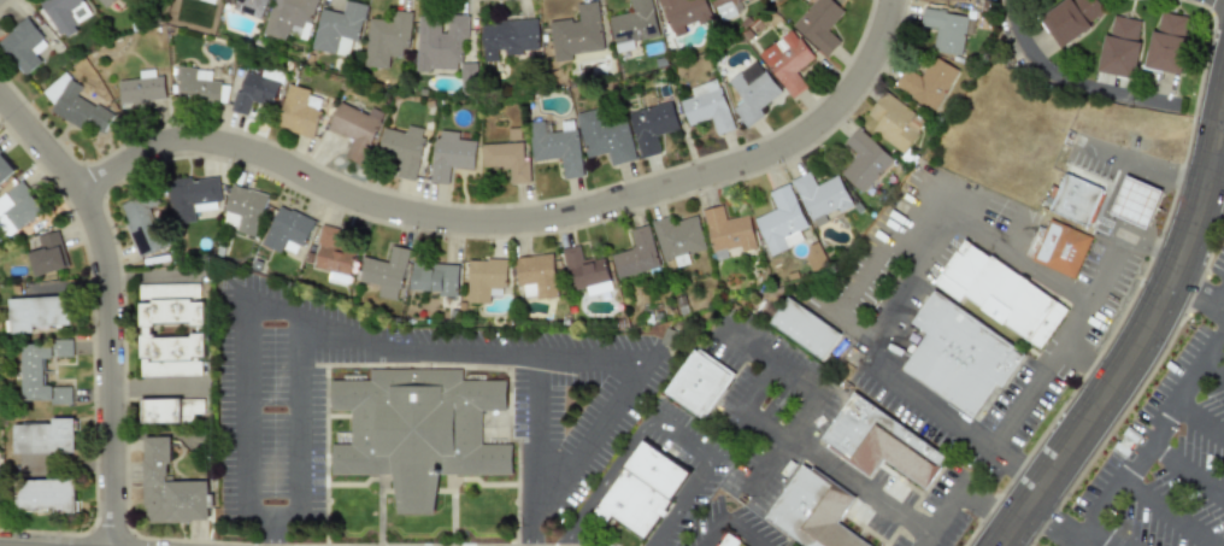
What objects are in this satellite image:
building: (210, 1)
building: (105, 2)
building: (249, 7)
building: (725, 8)
building: (683, 13)
building: (65, 14)
building: (288, 16)
building: (1070, 18)
building: (818, 24)
building: (634, 25)
building: (339, 29)
building: (945, 30)
building: (577, 33)
building: (508, 39)
building: (387, 40)
building: (1167, 42)
building: (440, 43)
building: (23, 46)
building: (1119, 47)
building: (787, 61)
building: (926, 83)
road: (1073, 83)
building: (195, 86)
building: (141, 88)
building: (254, 92)
building: (752, 93)
building: (75, 105)
building: (707, 106)
building: (296, 113)
building: (894, 122)
building: (652, 127)
building: (355, 129)
building: (605, 136)
road: (1220, 145)
building: (557, 146)
building: (402, 148)
building: (451, 154)
building: (506, 160)
building: (864, 160)
building: (5, 169)
road: (1144, 169)
building: (820, 196)
building: (190, 198)
building: (1135, 202)
building: (1089, 206)
building: (17, 210)
building: (243, 210)
building: (781, 219)
road: (518, 221)
building: (142, 224)
building: (287, 229)
building: (728, 230)
building: (677, 236)
road: (1146, 246)
building: (1065, 251)
building: (636, 254)
building: (47, 256)
building: (333, 256)
building: (814, 258)
building: (583, 269)
road: (1034, 270)
building: (386, 272)
building: (535, 276)
road: (907, 277)
building: (434, 278)
building: (484, 278)
building: (1005, 297)
road: (1199, 298)
road: (111, 301)
road: (1223, 312)
building: (36, 313)
building: (804, 328)
building: (175, 334)
road: (1141, 345)
road: (416, 346)
road: (870, 352)
building: (966, 359)
road: (775, 360)
road: (1088, 368)
road: (1213, 368)
building: (42, 371)
road: (1038, 378)
building: (698, 383)
road: (745, 409)
building: (173, 416)
road: (1199, 422)
road: (295, 427)
road: (531, 430)
building: (419, 431)
road: (1152, 433)
building: (45, 438)
road: (785, 444)
building: (1132, 445)
building: (884, 447)
road: (1185, 468)
road: (701, 475)
road: (606, 482)
road: (858, 485)
building: (169, 488)
building: (645, 492)
building: (45, 494)
road: (960, 498)
building: (817, 513)
road: (1166, 513)
road: (731, 522)
road: (1053, 524)
building: (731, 541)
road: (1084, 541)

